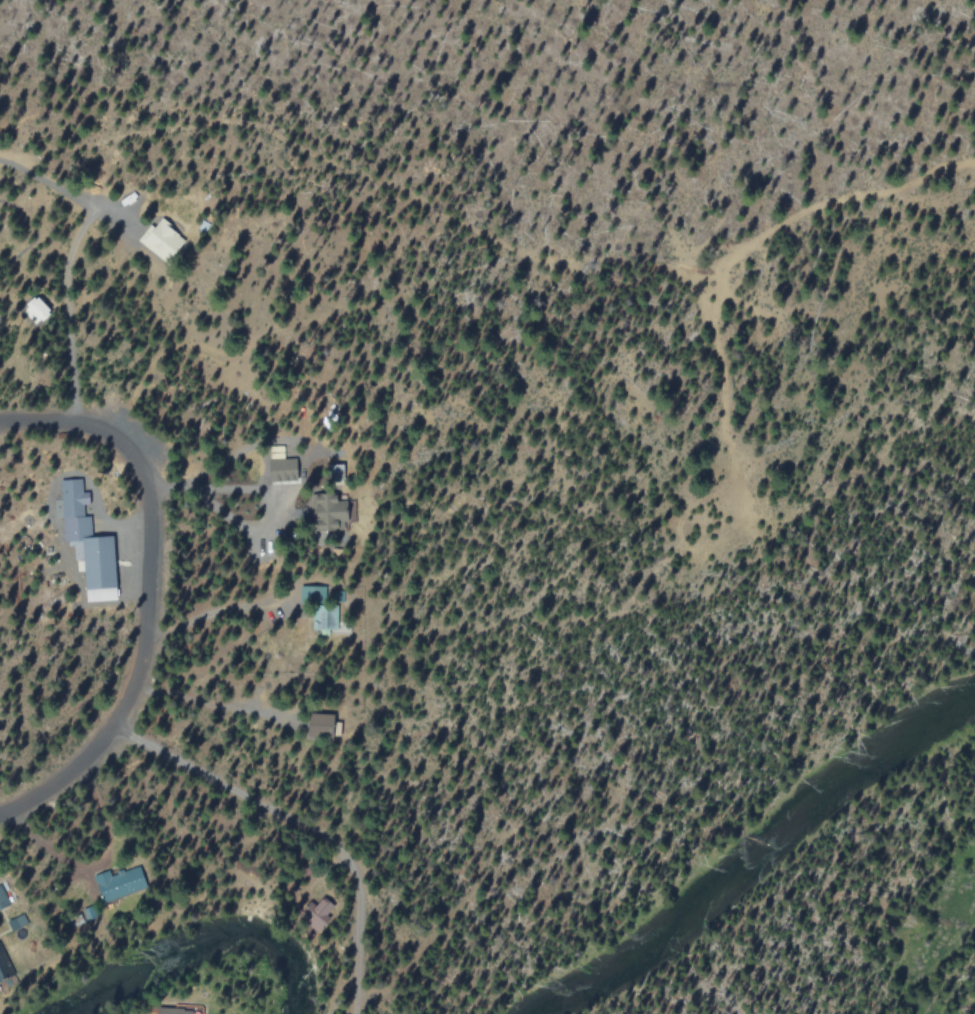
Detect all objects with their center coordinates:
building: (163, 240)
building: (37, 310)
building: (284, 470)
building: (333, 513)
building: (89, 543)
road: (146, 594)
building: (313, 594)
building: (326, 617)
building: (323, 725)
river: (762, 843)
building: (121, 882)
building: (319, 913)
building: (17, 921)
river: (190, 955)
building: (1, 973)

